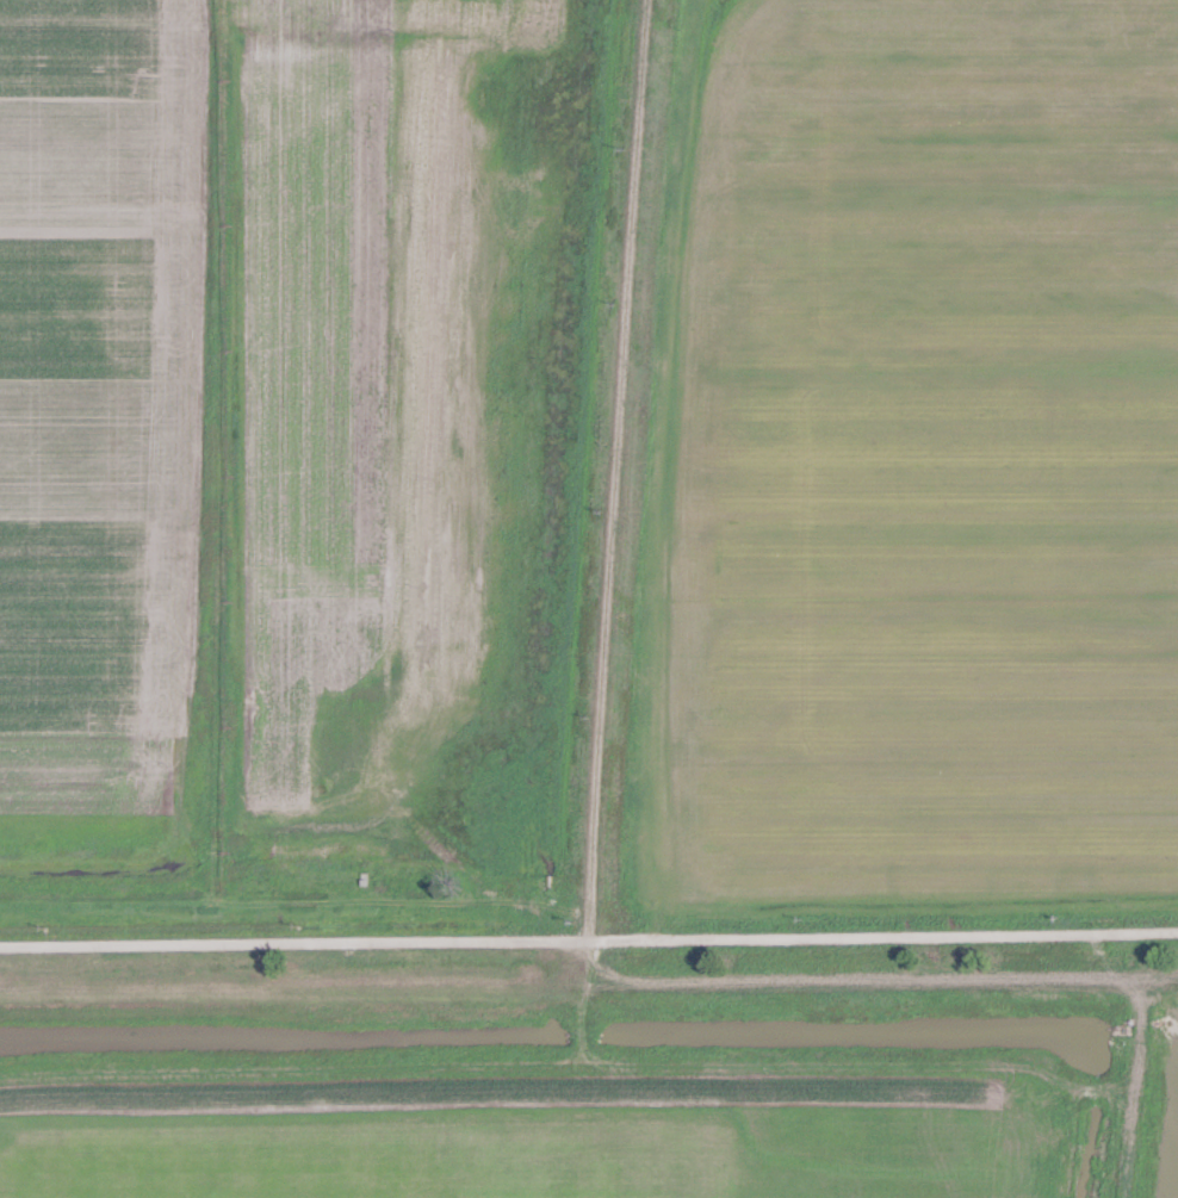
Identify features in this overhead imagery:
road: (589, 938)

